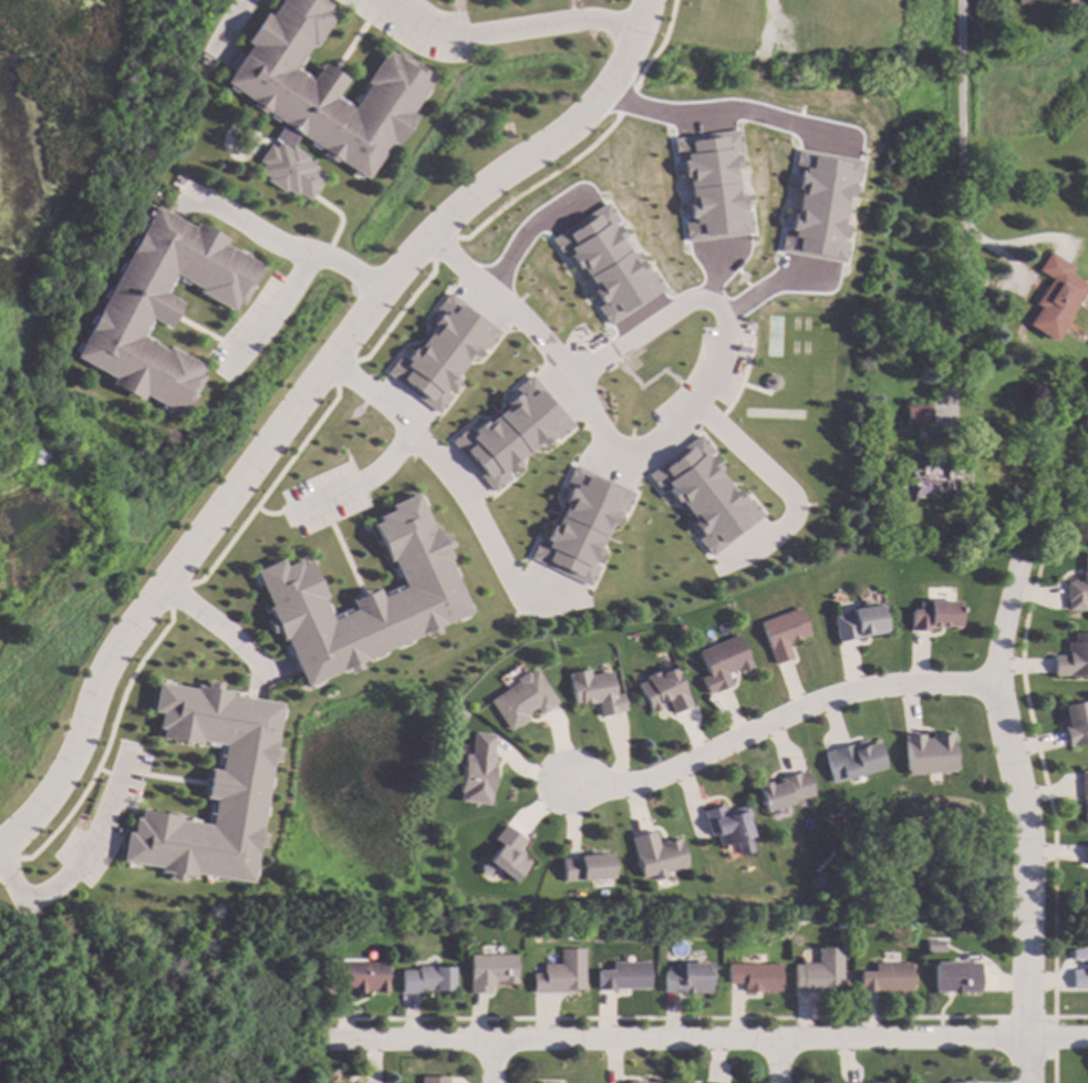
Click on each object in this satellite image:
road: (230, 21)
road: (499, 32)
building: (780, 40)
building: (319, 97)
road: (730, 118)
road: (957, 134)
building: (709, 184)
building: (819, 206)
road: (524, 235)
road: (281, 246)
building: (605, 265)
road: (767, 286)
building: (1055, 298)
building: (160, 308)
road: (265, 316)
building: (442, 352)
building: (768, 384)
road: (299, 402)
building: (918, 414)
building: (923, 433)
building: (509, 436)
road: (652, 447)
road: (770, 467)
road: (439, 470)
road: (356, 483)
building: (933, 484)
building: (702, 498)
building: (577, 523)
building: (1077, 588)
building: (364, 598)
building: (933, 615)
building: (858, 623)
road: (215, 630)
building: (781, 632)
building: (1073, 658)
building: (721, 663)
building: (662, 690)
building: (594, 691)
building: (520, 698)
road: (775, 722)
building: (1075, 723)
building: (929, 752)
building: (851, 761)
building: (477, 769)
building: (210, 785)
building: (784, 792)
building: (1084, 795)
road: (1029, 816)
building: (726, 824)
building: (1086, 853)
building: (507, 854)
building: (654, 855)
road: (77, 864)
building: (586, 867)
building: (933, 946)
building: (489, 971)
building: (822, 971)
building: (560, 973)
building: (361, 976)
building: (622, 977)
building: (754, 977)
building: (954, 977)
building: (686, 978)
building: (885, 978)
building: (1079, 978)
building: (426, 979)
road: (715, 1041)
road: (780, 1062)
road: (494, 1063)
building: (433, 1080)
building: (957, 1082)

